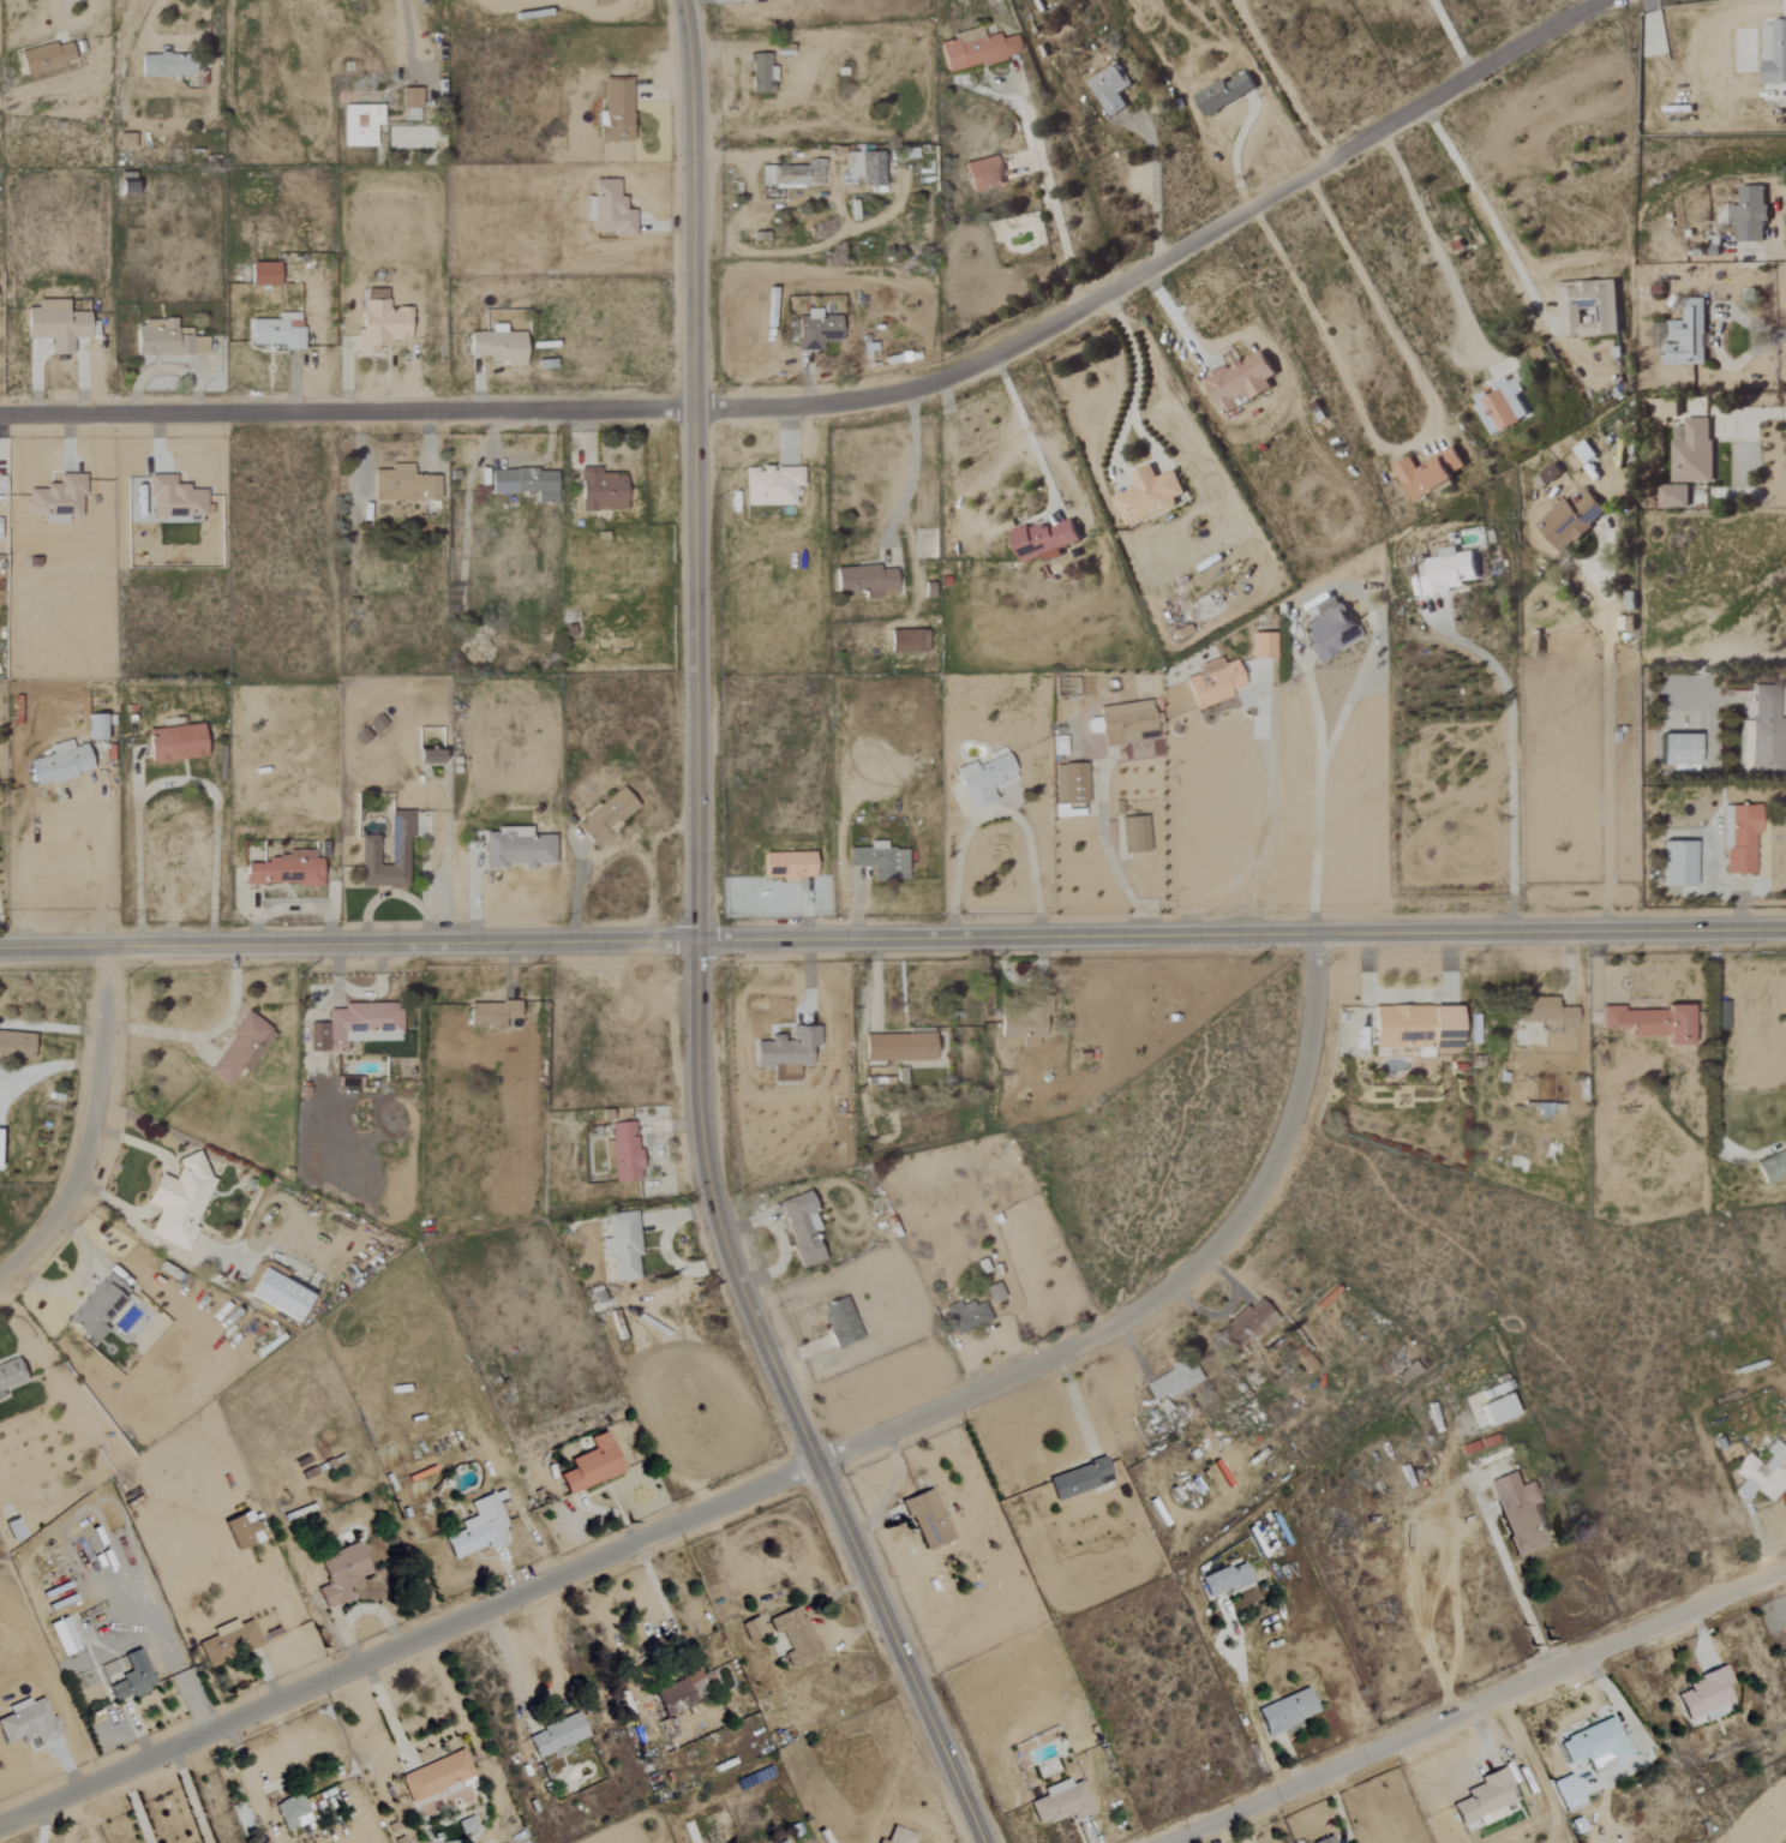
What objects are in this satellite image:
building: (755, 0)
road: (406, 34)
road: (1451, 38)
road: (168, 44)
building: (976, 50)
building: (1774, 53)
building: (44, 58)
building: (167, 65)
building: (760, 74)
road: (1281, 80)
building: (1109, 89)
building: (1223, 95)
building: (409, 97)
building: (616, 112)
building: (360, 125)
building: (864, 167)
building: (982, 174)
road: (1152, 185)
building: (125, 186)
road: (1053, 207)
building: (607, 211)
road: (1486, 215)
building: (1749, 215)
road: (1433, 247)
building: (263, 275)
building: (1588, 309)
building: (379, 322)
building: (55, 325)
building: (816, 330)
building: (276, 331)
building: (1685, 336)
road: (1781, 337)
building: (166, 340)
road: (1713, 342)
building: (497, 347)
building: (1240, 382)
road: (856, 402)
building: (1506, 405)
building: (1662, 409)
road: (1749, 412)
road: (1120, 430)
road: (1027, 433)
road: (1414, 445)
building: (1692, 453)
building: (1583, 454)
building: (1430, 474)
building: (1548, 474)
road: (911, 477)
building: (525, 483)
building: (402, 484)
building: (771, 485)
building: (600, 491)
building: (1147, 496)
building: (58, 497)
building: (1672, 497)
building: (174, 498)
building: (1570, 522)
building: (1043, 540)
building: (1446, 572)
building: (865, 580)
building: (1625, 623)
building: (1329, 630)
building: (907, 641)
building: (1534, 644)
building: (1260, 645)
road: (1719, 654)
building: (1212, 682)
building: (1126, 723)
building: (96, 726)
building: (1744, 731)
building: (1766, 732)
building: (174, 743)
building: (1057, 746)
road: (1604, 748)
building: (1679, 749)
building: (427, 756)
road: (1510, 761)
building: (60, 764)
building: (982, 779)
road: (173, 782)
building: (1069, 783)
road: (1318, 790)
road: (994, 814)
building: (606, 816)
building: (1134, 834)
road: (1264, 838)
building: (1742, 839)
road: (444, 840)
building: (516, 848)
building: (367, 850)
road: (1108, 856)
building: (880, 861)
building: (1678, 863)
road: (88, 866)
building: (787, 866)
building: (282, 870)
road: (36, 902)
road: (893, 940)
road: (696, 950)
building: (1546, 1013)
building: (491, 1015)
building: (1650, 1023)
building: (1026, 1025)
building: (355, 1027)
building: (1416, 1028)
building: (16, 1043)
building: (240, 1047)
building: (898, 1048)
building: (786, 1053)
road: (1713, 1076)
road: (92, 1129)
building: (622, 1151)
building: (1773, 1168)
building: (179, 1201)
building: (802, 1227)
building: (622, 1246)
building: (994, 1293)
building: (278, 1296)
building: (96, 1308)
building: (967, 1316)
building: (840, 1323)
building: (1246, 1324)
building: (10, 1375)
building: (1171, 1382)
building: (1498, 1410)
building: (592, 1466)
building: (1762, 1473)
building: (1079, 1479)
road: (771, 1484)
building: (1517, 1513)
building: (927, 1520)
building: (478, 1527)
building: (13, 1530)
building: (241, 1531)
building: (341, 1575)
building: (1227, 1580)
road: (1517, 1594)
road: (659, 1600)
building: (754, 1628)
building: (64, 1636)
building: (795, 1636)
building: (229, 1642)
road: (507, 1668)
building: (132, 1679)
building: (678, 1694)
building: (1706, 1695)
road: (1479, 1706)
building: (1285, 1712)
building: (28, 1722)
building: (556, 1737)
building: (1596, 1746)
building: (438, 1777)
building: (1569, 1794)
road: (190, 1797)
building: (1485, 1800)
building: (1061, 1803)
road: (136, 1808)
building: (292, 1813)
building: (467, 1825)
building: (899, 1836)
building: (1326, 1841)

